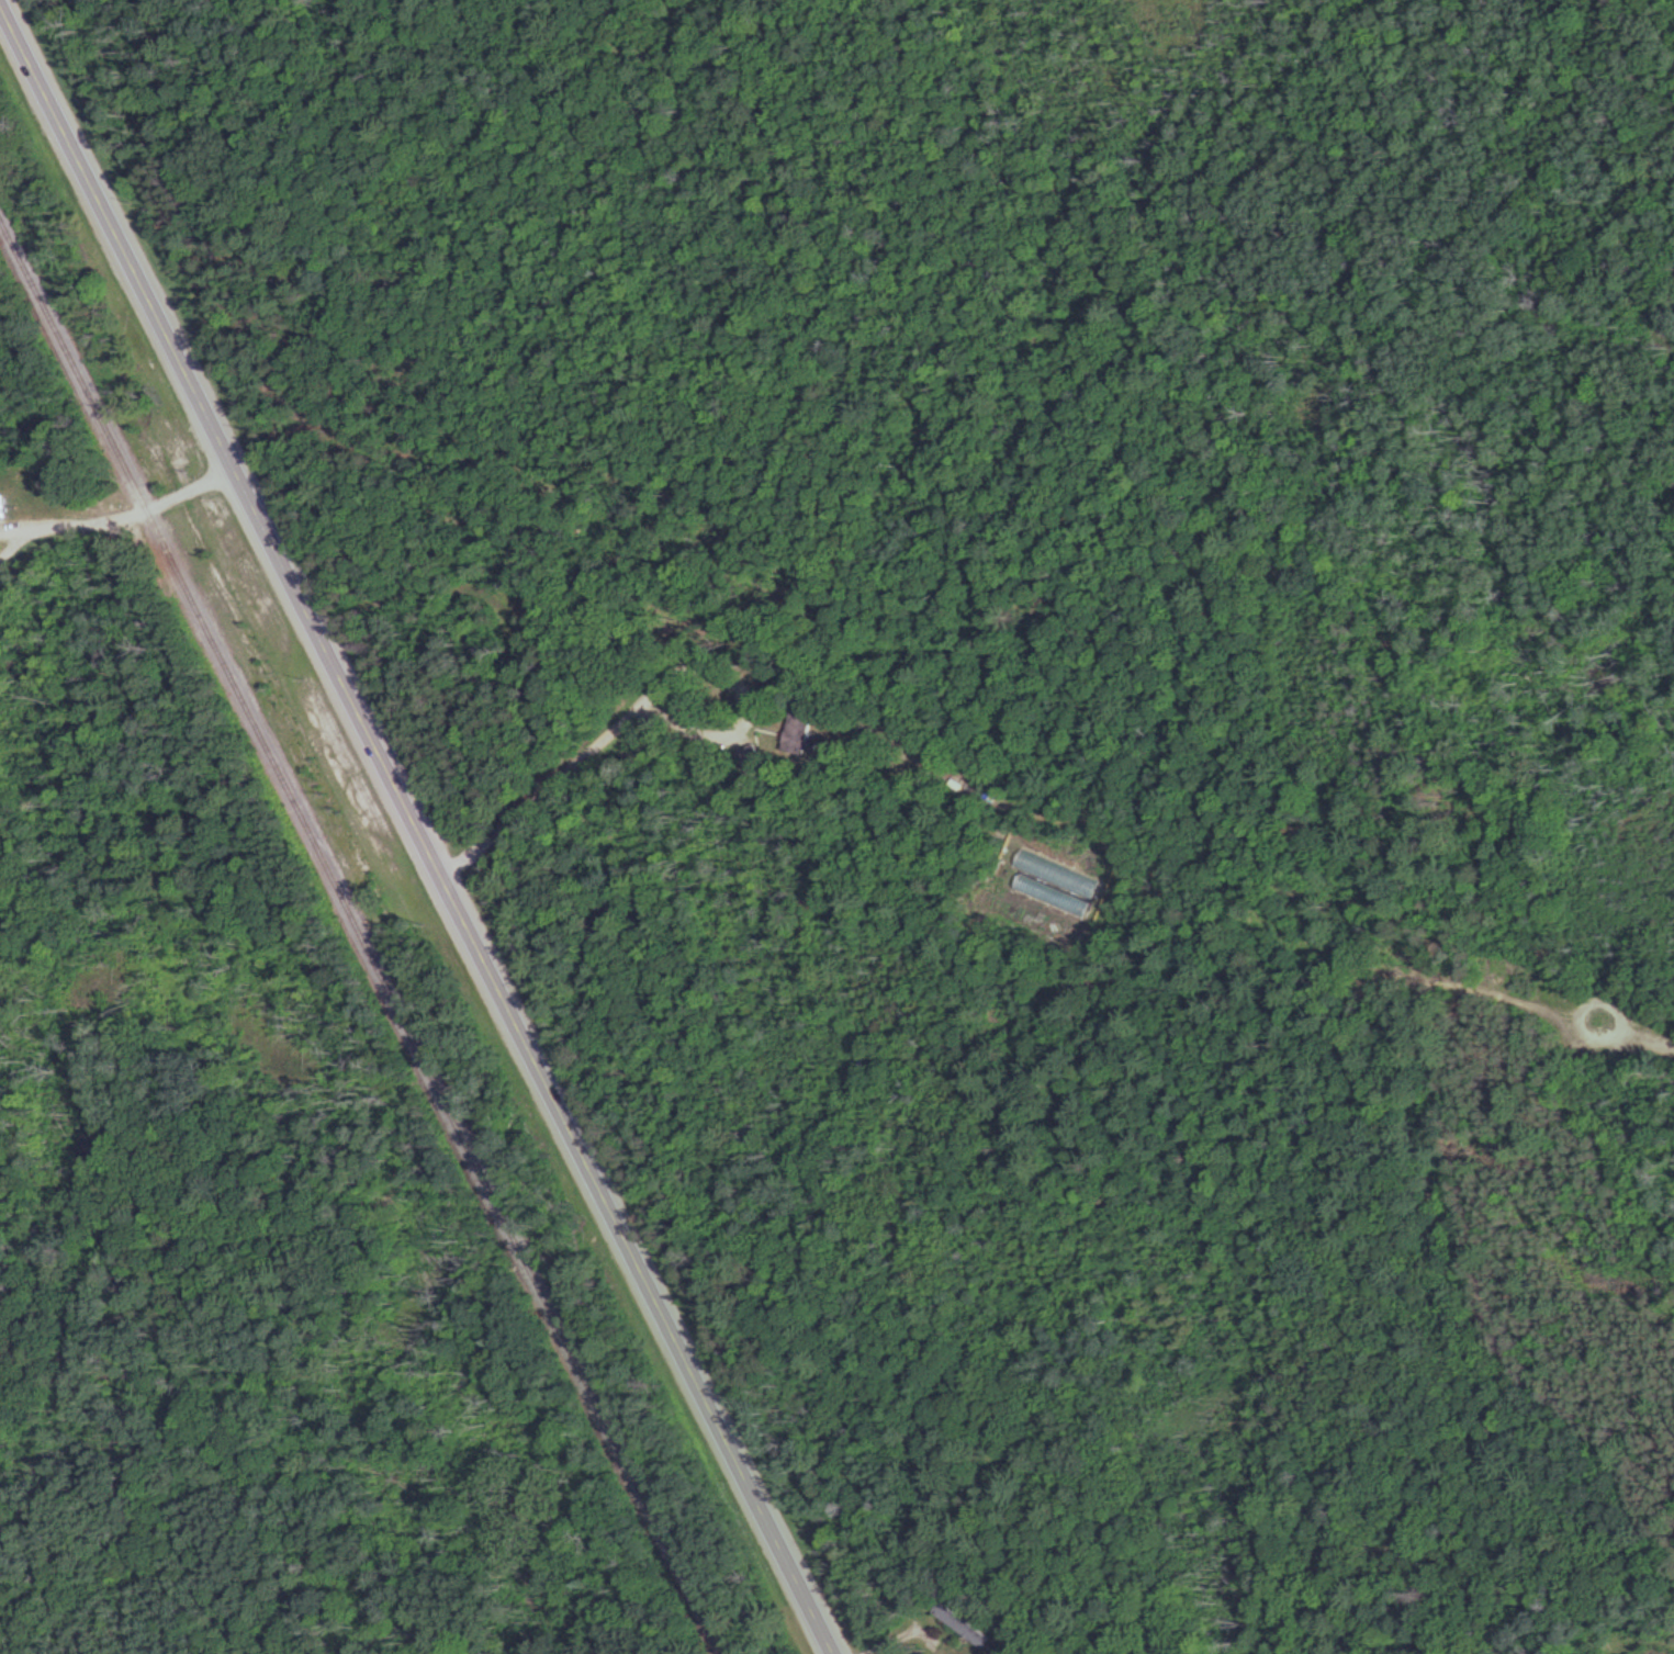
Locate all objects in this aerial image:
building: (5, 508)
building: (805, 728)
building: (754, 758)
road: (420, 826)
railway: (363, 942)

